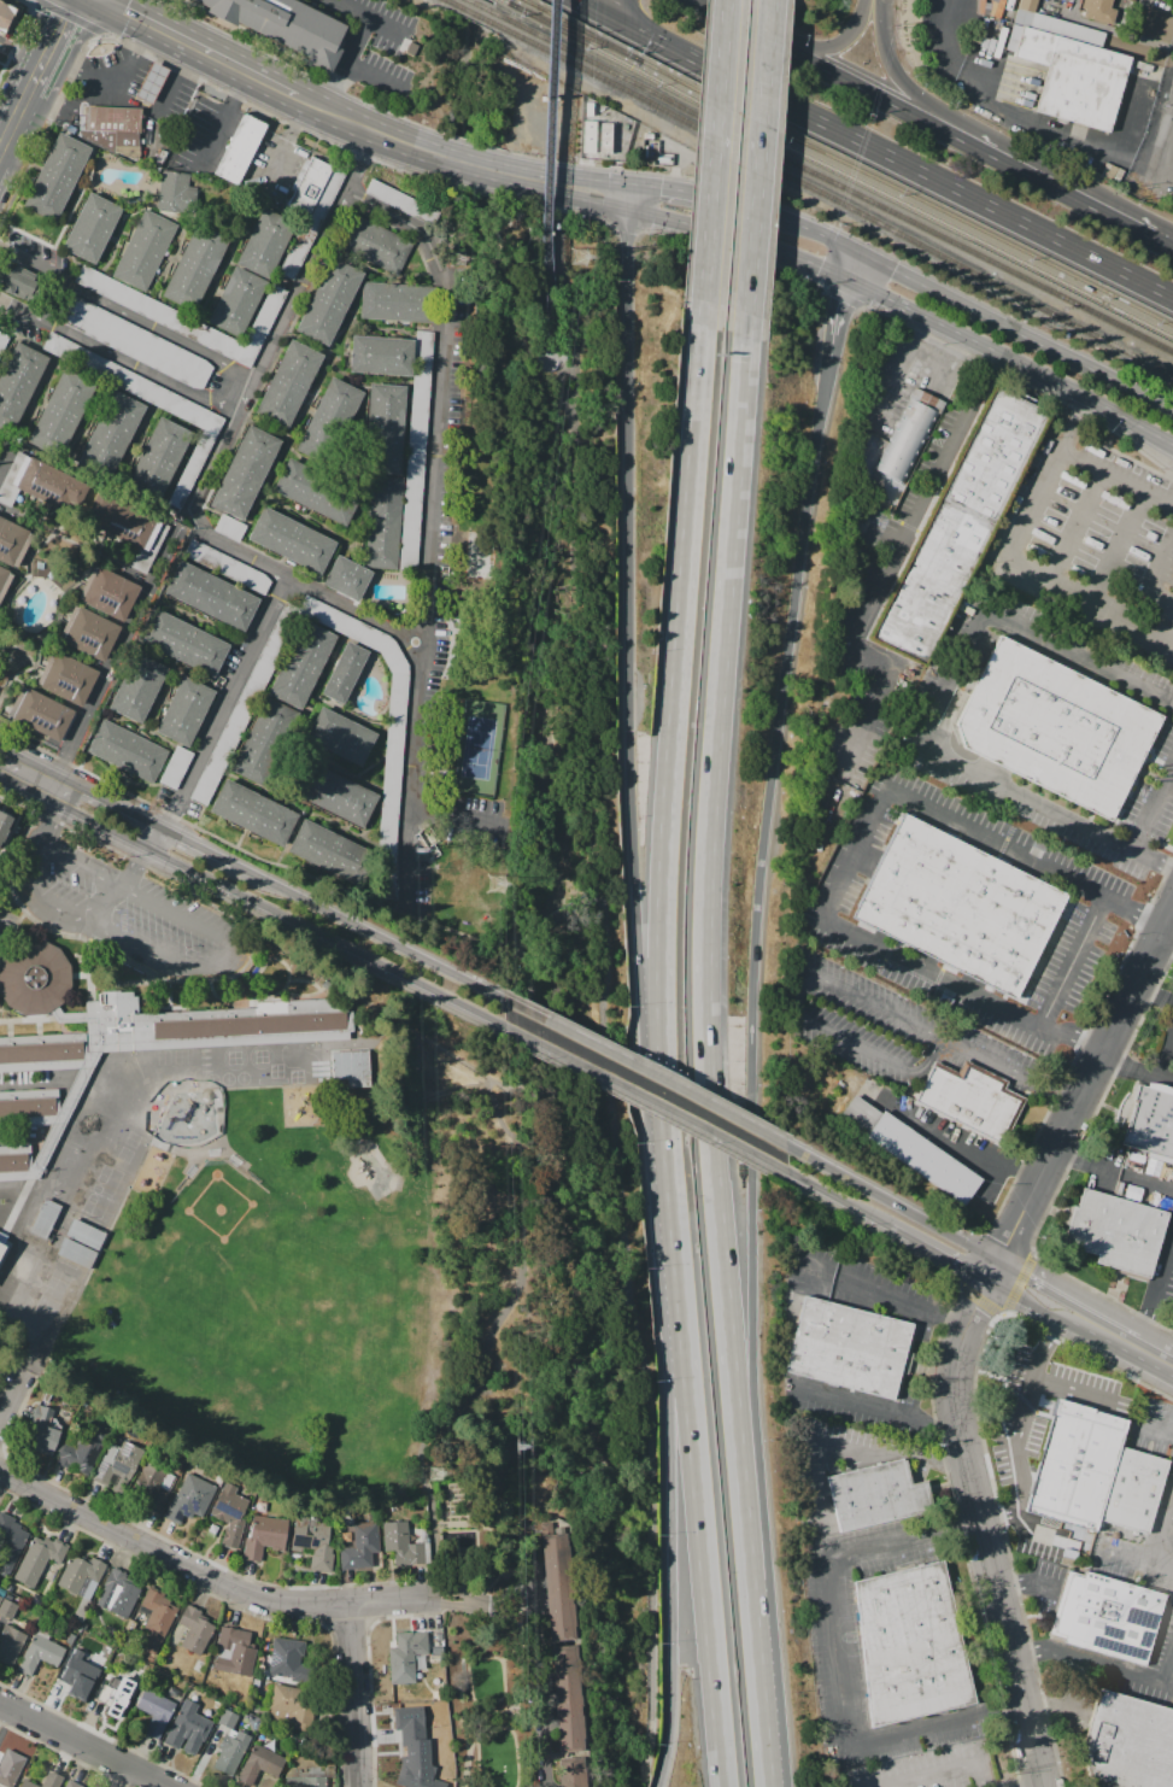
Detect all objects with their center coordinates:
road: (24, 0)
traffic signals: (579, 0)
railway: (454, 4)
railway: (481, 6)
building: (1098, 10)
road: (603, 11)
road: (624, 11)
building: (4, 16)
railway: (479, 16)
road: (70, 17)
road: (371, 19)
building: (285, 25)
road: (740, 25)
road: (58, 30)
railway: (575, 31)
road: (258, 40)
road: (843, 43)
road: (20, 51)
road: (212, 54)
road: (345, 63)
building: (1069, 66)
railway: (658, 68)
road: (178, 75)
road: (34, 78)
road: (111, 78)
road: (374, 80)
building: (153, 84)
road: (908, 87)
parking lot: (128, 88)
road: (240, 99)
road: (886, 99)
road: (227, 116)
road: (1010, 117)
road: (12, 122)
building: (113, 124)
building: (626, 127)
building: (152, 133)
road: (383, 135)
building: (649, 135)
parking lot: (203, 136)
building: (596, 136)
road: (285, 145)
building: (241, 148)
building: (664, 159)
road: (899, 159)
road: (716, 162)
road: (1169, 162)
parking lot: (274, 166)
road: (474, 166)
railway: (837, 168)
road: (763, 175)
building: (57, 177)
road: (547, 178)
road: (1169, 178)
road: (526, 180)
road: (594, 181)
railway: (833, 181)
building: (307, 186)
traffic signals: (641, 187)
road: (1071, 191)
building: (176, 193)
road: (693, 194)
railway: (833, 198)
road: (637, 199)
road: (74, 205)
building: (401, 207)
traffic signals: (633, 211)
road: (162, 213)
building: (312, 222)
road: (698, 225)
road: (802, 225)
building: (90, 228)
railway: (983, 229)
road: (558, 233)
road: (1166, 238)
building: (264, 244)
building: (374, 244)
building: (145, 251)
traffic signals: (857, 251)
parking lot: (34, 253)
power tower: (579, 257)
power tower: (459, 260)
road: (223, 264)
road: (851, 265)
building: (194, 268)
traffic signals: (845, 280)
road: (403, 282)
building: (19, 283)
road: (134, 288)
road: (878, 297)
building: (236, 301)
building: (329, 301)
building: (398, 303)
road: (55, 304)
building: (77, 314)
road: (127, 315)
building: (169, 317)
road: (837, 318)
road: (395, 330)
road: (1014, 330)
building: (5, 341)
building: (148, 348)
road: (7, 352)
building: (380, 356)
road: (119, 358)
road: (916, 363)
road: (348, 379)
road: (1042, 381)
building: (19, 382)
building: (289, 382)
road: (563, 385)
parking lot: (227, 388)
road: (317, 388)
road: (434, 389)
road: (41, 398)
road: (139, 399)
road: (573, 399)
building: (60, 411)
building: (332, 422)
road: (87, 423)
building: (211, 423)
building: (385, 428)
building: (111, 434)
building: (909, 435)
road: (136, 449)
building: (416, 450)
road: (4, 461)
building: (162, 461)
building: (245, 474)
road: (1116, 481)
building: (316, 492)
building: (88, 504)
building: (958, 521)
building: (383, 522)
road: (1077, 528)
road: (328, 529)
road: (880, 531)
building: (291, 540)
building: (12, 541)
road: (230, 546)
road: (904, 546)
parking lot: (1091, 546)
road: (1122, 550)
road: (1011, 563)
building: (227, 564)
building: (347, 578)
building: (4, 580)
road: (1161, 581)
building: (108, 593)
building: (211, 596)
road: (205, 623)
building: (89, 633)
building: (187, 644)
parking lot: (441, 645)
road: (134, 649)
road: (111, 660)
building: (303, 663)
parking lot: (234, 664)
road: (183, 668)
building: (344, 672)
building: (66, 676)
road: (325, 678)
road: (633, 684)
building: (137, 687)
road: (230, 693)
road: (274, 697)
road: (163, 699)
road: (262, 702)
building: (246, 704)
road: (576, 705)
road: (592, 705)
building: (184, 711)
road: (936, 711)
building: (41, 715)
road: (364, 719)
building: (1054, 727)
road: (151, 734)
building: (340, 736)
road: (675, 739)
building: (395, 740)
building: (265, 742)
park: (476, 749)
road: (8, 751)
building: (127, 751)
road: (327, 763)
road: (4, 767)
building: (175, 767)
road: (40, 781)
road: (136, 785)
road: (381, 790)
building: (330, 792)
road: (118, 803)
parking lot: (178, 804)
road: (301, 808)
building: (256, 813)
road: (53, 818)
road: (1155, 818)
building: (4, 824)
road: (293, 837)
road: (156, 839)
road: (200, 842)
building: (432, 842)
building: (329, 851)
power tower: (417, 851)
road: (862, 853)
road: (130, 877)
power tower: (497, 885)
road: (353, 894)
road: (133, 895)
road: (39, 896)
road: (11, 897)
road: (588, 898)
park: (471, 900)
building: (958, 906)
parking lot: (129, 907)
road: (280, 916)
road: (555, 918)
road: (368, 927)
road: (1165, 938)
road: (527, 953)
road: (146, 956)
road: (1074, 960)
road: (315, 968)
building: (34, 977)
road: (710, 986)
road: (757, 989)
road: (1151, 994)
road: (802, 1007)
building: (206, 1024)
road: (366, 1041)
building: (41, 1051)
road: (527, 1053)
road: (1168, 1067)
building: (350, 1068)
road: (643, 1068)
road: (1134, 1070)
road: (1008, 1073)
road: (1080, 1089)
road: (643, 1097)
building: (969, 1097)
building: (29, 1107)
building: (1151, 1121)
road: (950, 1143)
building: (910, 1149)
building: (14, 1161)
road: (1112, 1168)
building: (101, 1195)
road: (838, 1200)
road: (891, 1200)
building: (93, 1214)
building: (43, 1217)
road: (671, 1230)
building: (1115, 1231)
building: (1, 1243)
building: (74, 1252)
road: (939, 1254)
building: (5, 1260)
park: (234, 1269)
road: (627, 1276)
road: (1156, 1279)
road: (1068, 1297)
road: (1027, 1299)
road: (891, 1303)
building: (47, 1308)
park: (213, 1325)
road: (488, 1342)
road: (1156, 1344)
building: (848, 1347)
road: (1119, 1348)
road: (907, 1361)
road: (931, 1367)
road: (1171, 1370)
road: (10, 1398)
road: (1113, 1404)
road: (1028, 1407)
road: (911, 1410)
road: (879, 1411)
road: (1159, 1425)
building: (43, 1431)
road: (846, 1446)
building: (83, 1448)
power tower: (517, 1449)
building: (117, 1465)
power tower: (435, 1471)
building: (1093, 1472)
building: (152, 1486)
building: (875, 1494)
building: (190, 1498)
building: (230, 1514)
road: (1026, 1522)
road: (987, 1531)
building: (264, 1536)
building: (313, 1541)
building: (10, 1542)
building: (400, 1542)
building: (359, 1546)
road: (673, 1546)
road: (698, 1546)
road: (1162, 1547)
building: (39, 1559)
road: (1134, 1562)
building: (80, 1572)
road: (209, 1580)
building: (555, 1583)
road: (1026, 1584)
building: (117, 1594)
building: (0, 1599)
road: (486, 1605)
building: (7, 1610)
building: (1110, 1617)
building: (156, 1622)
building: (195, 1633)
building: (80, 1645)
building: (911, 1645)
building: (10, 1647)
building: (230, 1648)
building: (406, 1653)
building: (39, 1656)
building: (286, 1659)
road: (840, 1663)
road: (1101, 1665)
building: (90, 1666)
building: (81, 1689)
building: (106, 1695)
road: (350, 1695)
road: (542, 1695)
building: (565, 1698)
building: (289, 1703)
road: (764, 1705)
building: (154, 1712)
building: (227, 1718)
building: (187, 1728)
building: (1128, 1742)
road: (81, 1745)
building: (230, 1751)
building: (416, 1759)
building: (260, 1764)
building: (11, 1769)
building: (571, 1771)
road: (945, 1774)
building: (306, 1779)
building: (53, 1781)
building: (27, 1785)
building: (71, 1785)
road: (1036, 1785)

